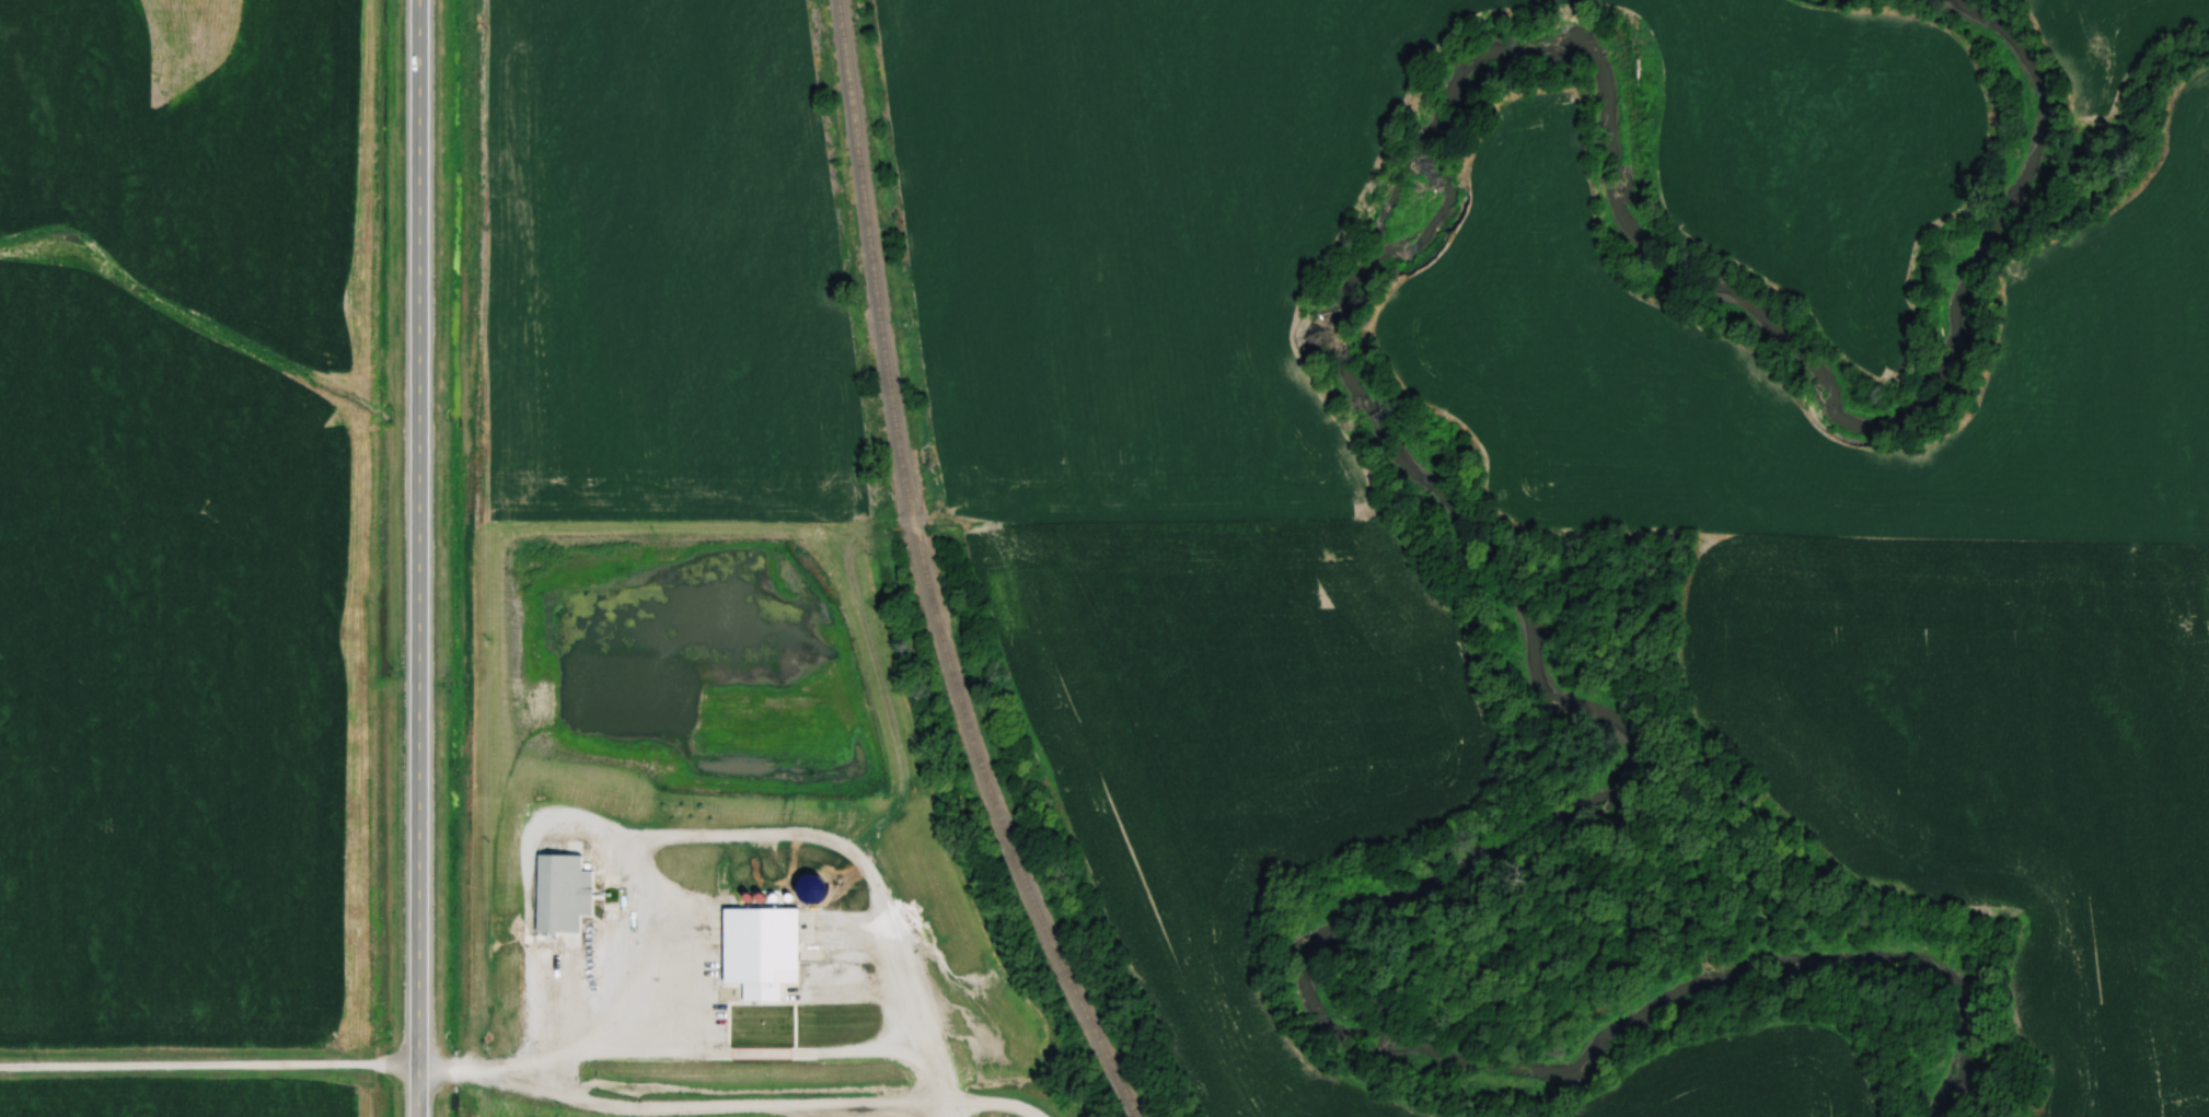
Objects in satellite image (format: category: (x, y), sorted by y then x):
river: (1430, 496)
road: (419, 558)
railway: (918, 577)
road: (722, 836)
road: (209, 1068)
road: (991, 1104)
road: (679, 1108)
road: (944, 1109)

